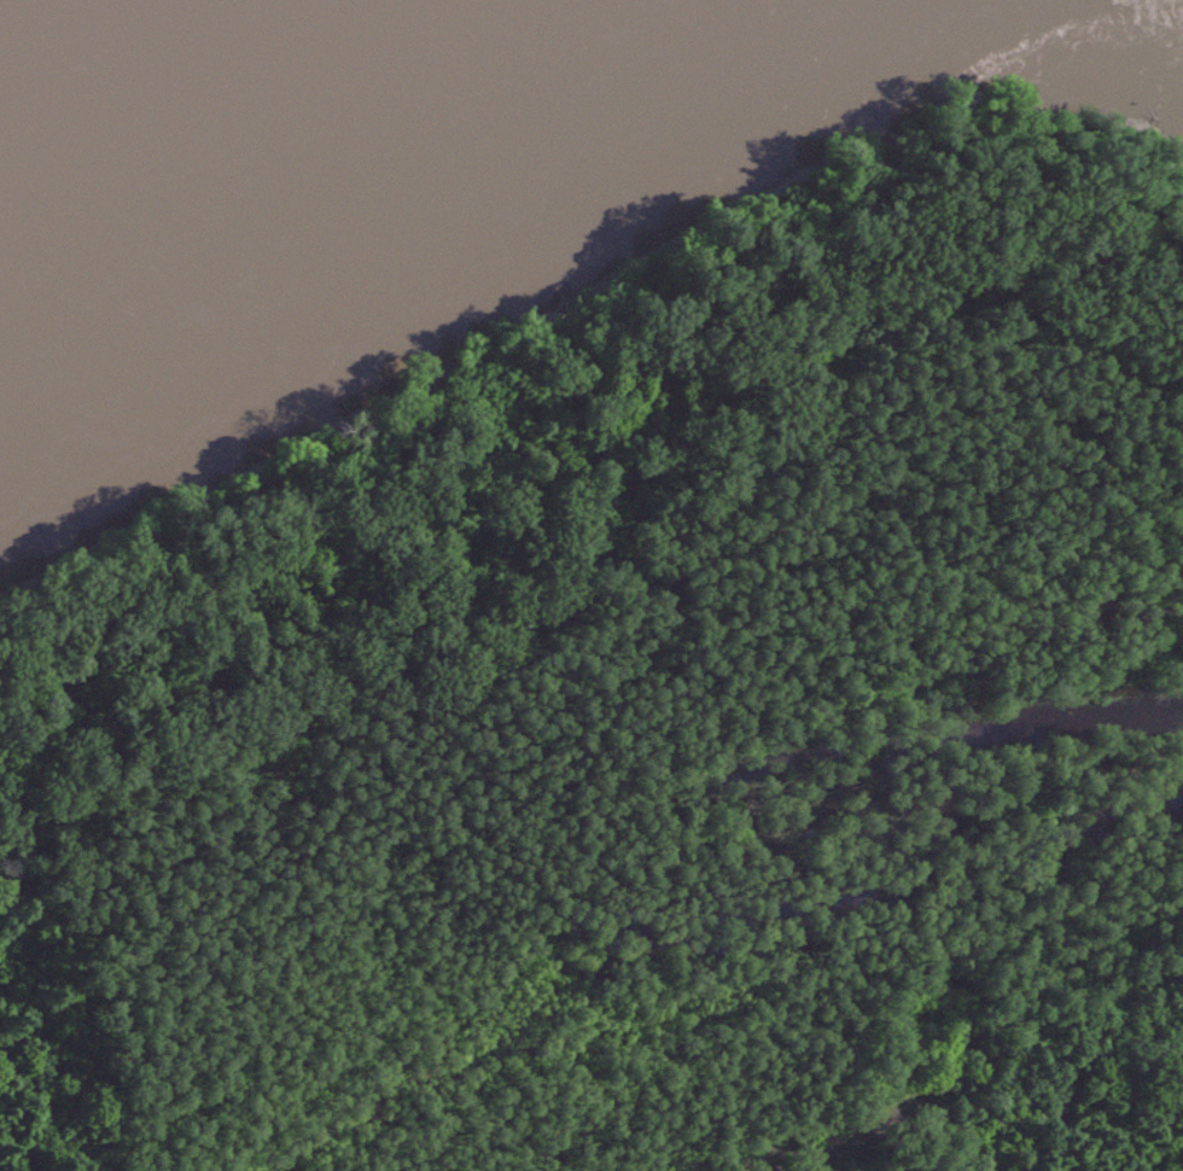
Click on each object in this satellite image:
river: (6, 2)

